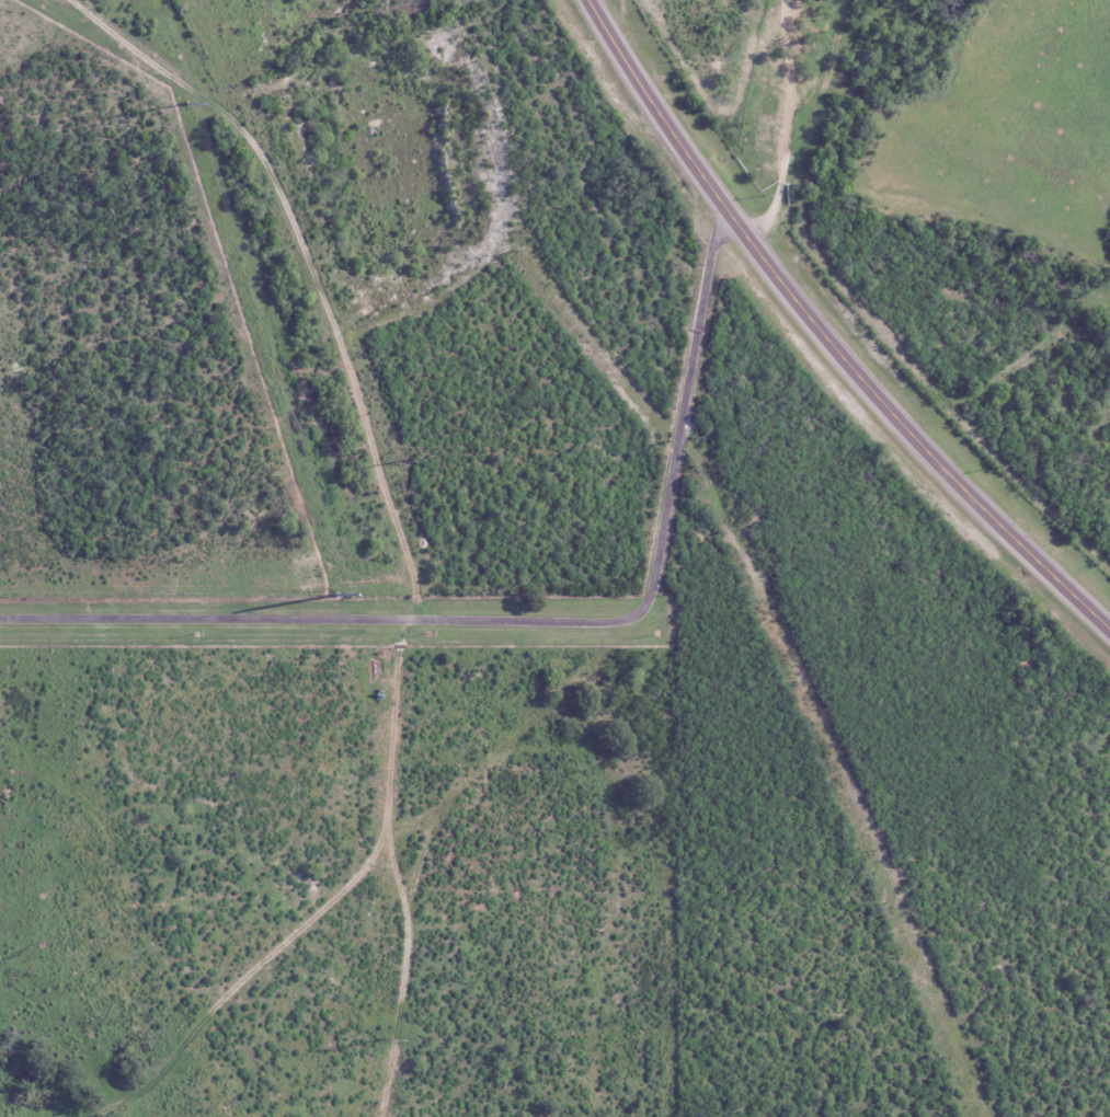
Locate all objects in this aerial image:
power tower: (366, 13)
power tower: (334, 21)
power tower: (185, 104)
road: (791, 125)
power tower: (517, 251)
road: (826, 334)
power tower: (666, 442)
power tower: (391, 462)
power tower: (740, 531)
power tower: (339, 596)
road: (304, 619)
road: (577, 663)
power tower: (871, 851)
road: (309, 977)
power tower: (379, 1041)

